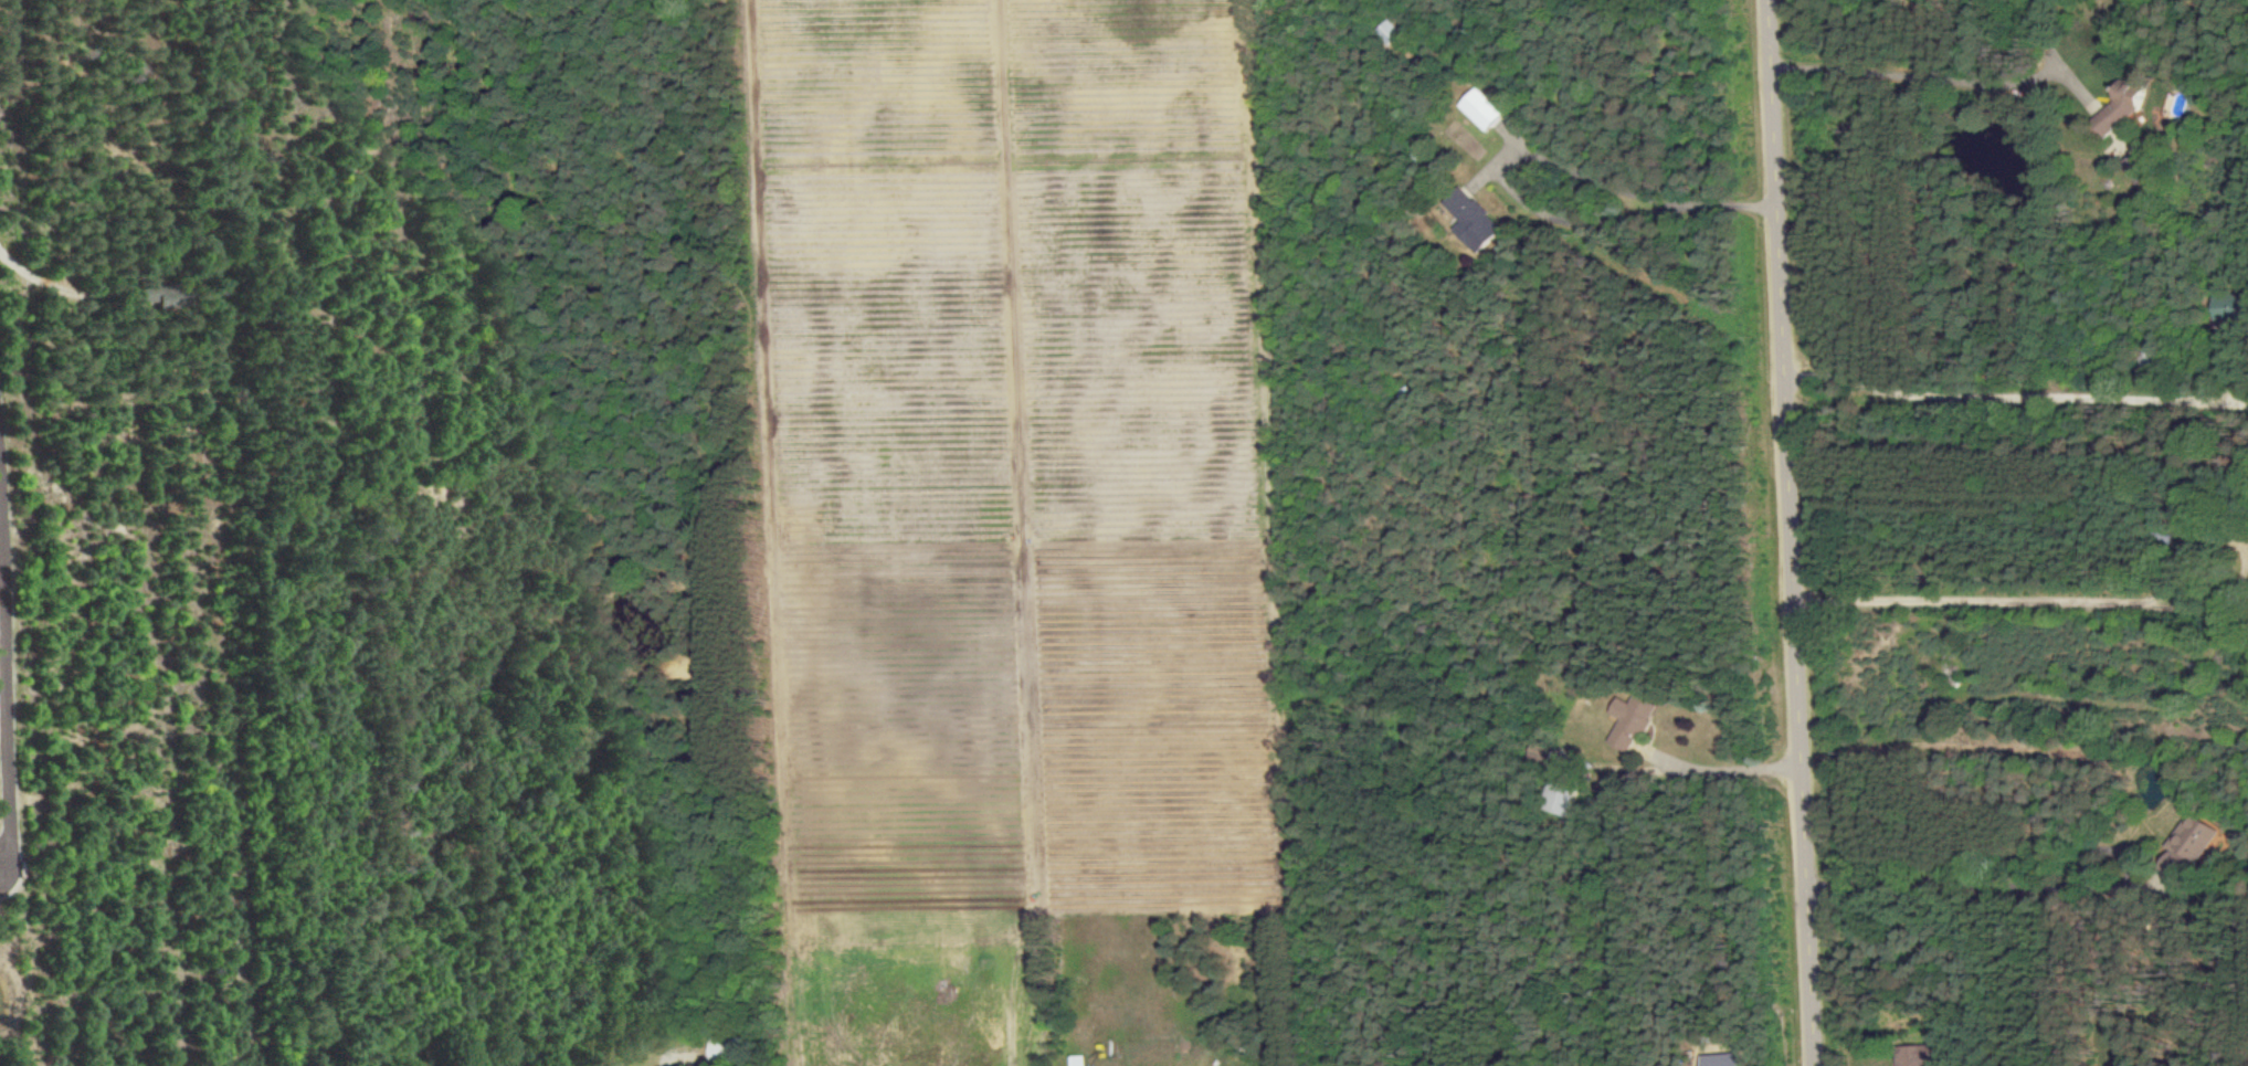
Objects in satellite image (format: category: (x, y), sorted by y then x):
building: (1389, 32)
road: (1913, 64)
building: (2115, 107)
building: (1479, 108)
road: (1608, 189)
building: (1469, 220)
road: (53, 286)
building: (2225, 307)
road: (2013, 391)
road: (1785, 532)
road: (1973, 601)
road: (4, 677)
building: (1627, 721)
road: (1721, 770)
road: (262, 798)
building: (1558, 799)
building: (2185, 845)
road: (1967, 878)
building: (1911, 1055)
building: (1718, 1059)
building: (1074, 1060)

